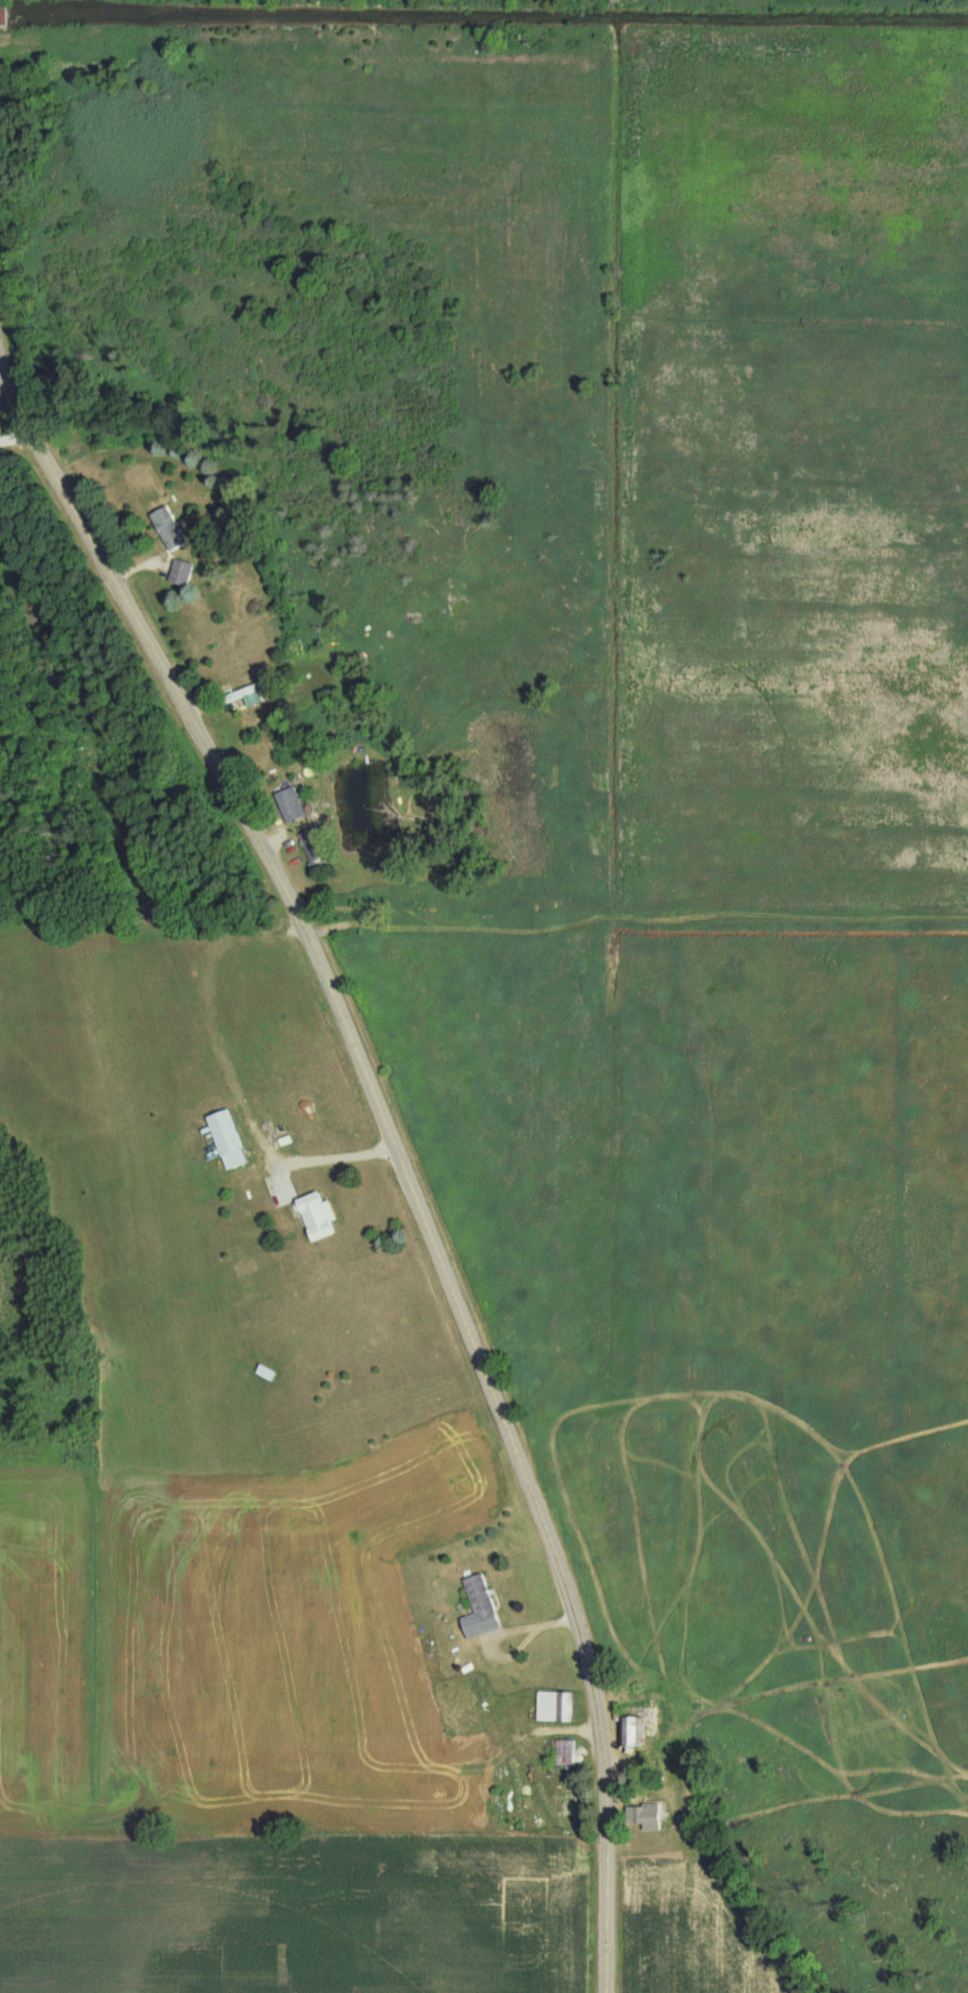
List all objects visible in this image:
building: (165, 526)
building: (179, 571)
building: (240, 695)
building: (288, 804)
building: (226, 1138)
road: (396, 1145)
building: (313, 1215)
building: (477, 1607)
building: (553, 1705)
building: (630, 1730)
building: (646, 1815)

